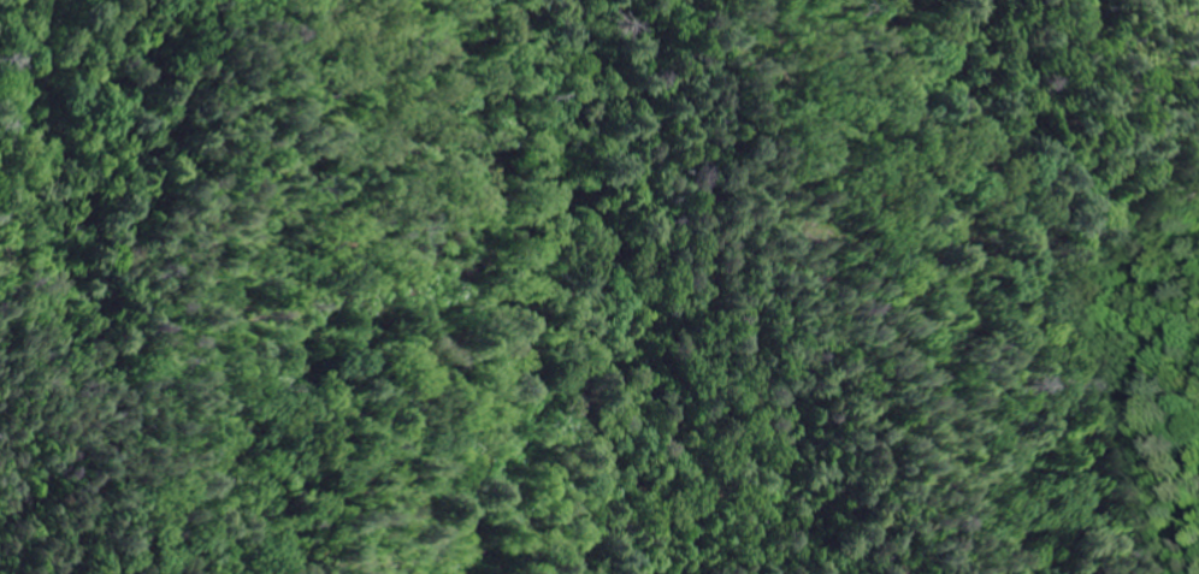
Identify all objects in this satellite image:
road: (1080, 124)

